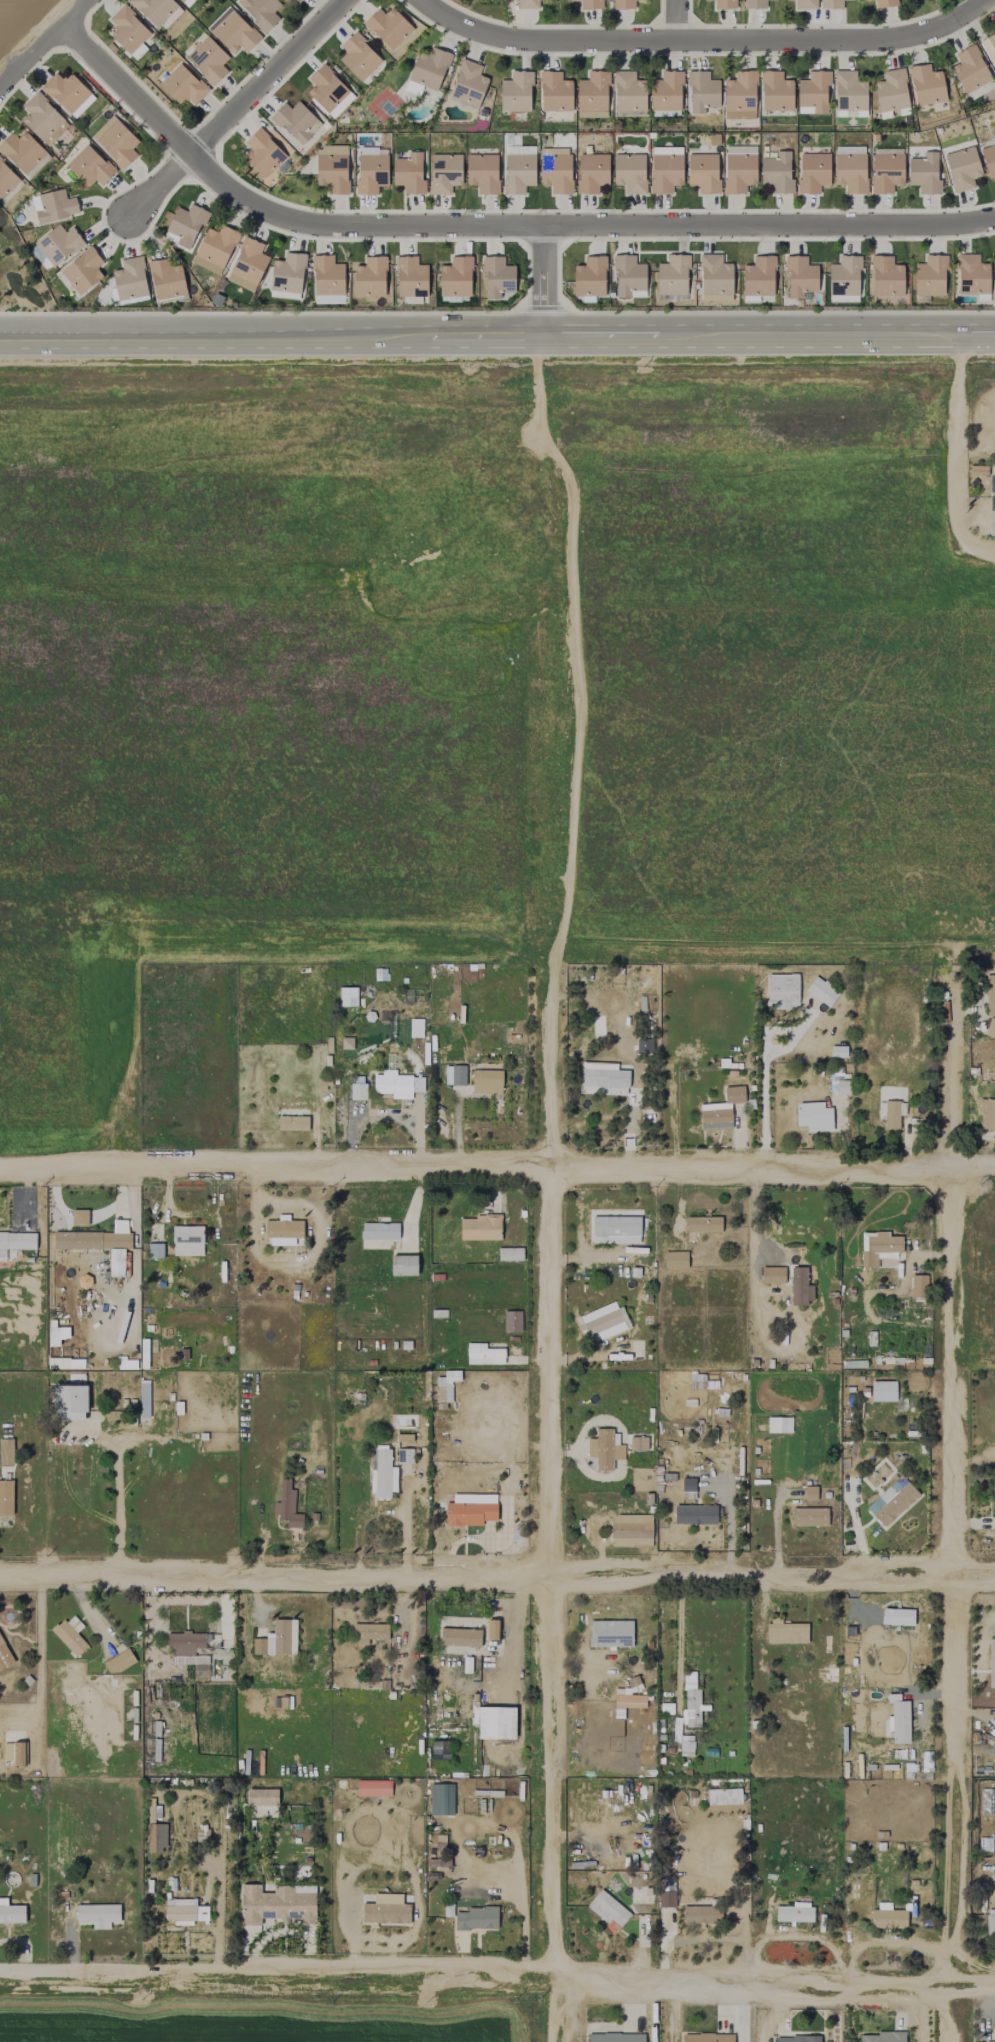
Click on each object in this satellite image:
building: (284, 0)
building: (297, 0)
building: (866, 0)
building: (186, 2)
building: (884, 3)
building: (527, 4)
building: (588, 4)
building: (623, 4)
building: (723, 4)
building: (754, 4)
building: (804, 4)
building: (831, 4)
building: (156, 10)
building: (260, 11)
road: (672, 20)
building: (387, 27)
building: (232, 31)
building: (128, 32)
road: (700, 40)
building: (991, 43)
road: (43, 44)
building: (358, 57)
building: (207, 60)
building: (428, 68)
building: (969, 69)
building: (182, 85)
building: (467, 85)
building: (926, 85)
building: (412, 88)
building: (326, 89)
building: (702, 91)
building: (775, 91)
building: (515, 92)
building: (554, 92)
building: (628, 92)
building: (666, 92)
building: (812, 92)
building: (849, 93)
building: (68, 94)
building: (592, 94)
building: (739, 96)
road: (233, 110)
building: (41, 118)
building: (295, 122)
building: (115, 141)
building: (23, 153)
building: (262, 153)
building: (988, 160)
building: (89, 167)
building: (332, 168)
building: (738, 168)
building: (850, 168)
building: (962, 168)
building: (555, 169)
building: (665, 169)
building: (370, 170)
building: (591, 172)
building: (703, 172)
building: (812, 172)
building: (886, 172)
building: (408, 173)
building: (444, 173)
building: (482, 173)
building: (518, 173)
building: (629, 173)
building: (777, 173)
building: (923, 173)
building: (6, 180)
road: (490, 225)
building: (185, 226)
building: (58, 244)
building: (214, 249)
building: (994, 261)
building: (247, 265)
building: (82, 270)
building: (287, 273)
building: (972, 275)
building: (327, 276)
building: (672, 276)
building: (758, 276)
building: (844, 276)
building: (930, 276)
building: (369, 277)
building: (410, 277)
building: (455, 277)
building: (497, 277)
building: (589, 277)
building: (715, 277)
building: (800, 277)
building: (886, 277)
building: (129, 279)
building: (166, 279)
road: (543, 281)
road: (497, 337)
road: (956, 439)
building: (992, 493)
road: (977, 551)
road: (568, 645)
building: (782, 991)
building: (821, 991)
building: (990, 995)
building: (347, 997)
building: (415, 1028)
building: (990, 1028)
building: (643, 1045)
building: (837, 1051)
road: (764, 1067)
building: (454, 1075)
building: (603, 1079)
building: (486, 1081)
building: (397, 1084)
building: (357, 1091)
building: (733, 1094)
building: (892, 1114)
building: (987, 1114)
building: (813, 1116)
building: (292, 1119)
building: (715, 1119)
road: (497, 1171)
building: (79, 1218)
building: (703, 1224)
building: (479, 1228)
building: (615, 1230)
building: (283, 1231)
building: (186, 1240)
building: (16, 1241)
building: (99, 1244)
building: (878, 1248)
building: (155, 1250)
building: (509, 1254)
building: (675, 1260)
building: (404, 1265)
building: (772, 1275)
building: (918, 1286)
building: (800, 1287)
building: (511, 1321)
building: (602, 1322)
building: (483, 1354)
building: (124, 1363)
building: (446, 1385)
building: (70, 1402)
building: (778, 1424)
building: (638, 1444)
building: (604, 1449)
building: (6, 1452)
building: (383, 1476)
building: (687, 1488)
building: (809, 1493)
building: (5, 1497)
road: (549, 1499)
building: (891, 1501)
building: (994, 1502)
building: (287, 1506)
road: (117, 1507)
building: (470, 1509)
building: (694, 1514)
road: (946, 1514)
building: (809, 1517)
building: (631, 1530)
road: (497, 1583)
building: (492, 1629)
building: (785, 1632)
building: (368, 1633)
building: (610, 1633)
building: (70, 1635)
building: (459, 1637)
building: (277, 1639)
building: (191, 1650)
building: (4, 1656)
building: (118, 1662)
building: (992, 1665)
building: (629, 1701)
building: (690, 1702)
building: (899, 1719)
building: (495, 1723)
building: (682, 1739)
building: (14, 1752)
building: (373, 1788)
building: (724, 1796)
building: (261, 1797)
building: (441, 1799)
building: (156, 1830)
building: (666, 1899)
building: (277, 1904)
building: (607, 1908)
building: (386, 1910)
building: (184, 1911)
building: (11, 1913)
building: (794, 1913)
building: (97, 1915)
building: (701, 1915)
building: (476, 1918)
building: (888, 1919)
building: (990, 1921)
road: (497, 1984)
building: (615, 2037)
building: (707, 2037)
building: (881, 2037)
building: (796, 2039)
building: (987, 2041)

